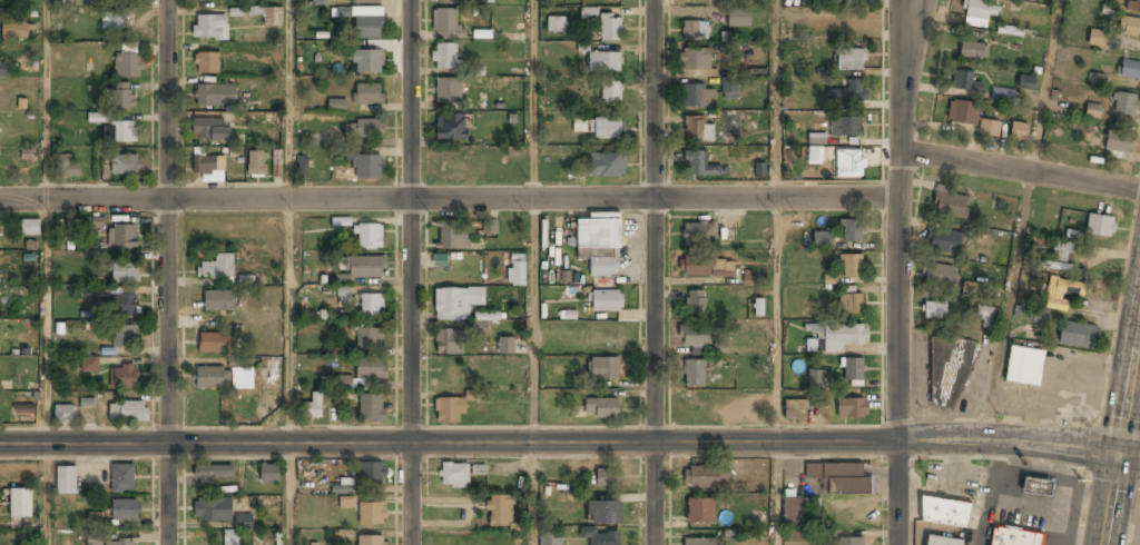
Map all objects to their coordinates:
building: (613, 0)
building: (1036, 0)
building: (367, 1)
building: (446, 1)
building: (852, 1)
building: (91, 2)
building: (318, 2)
building: (1132, 6)
building: (588, 12)
building: (979, 12)
building: (272, 17)
building: (738, 20)
building: (112, 21)
building: (368, 23)
building: (445, 23)
building: (1128, 24)
building: (557, 26)
building: (210, 28)
building: (611, 29)
building: (1009, 30)
building: (17, 31)
building: (696, 31)
building: (1097, 38)
road: (908, 48)
building: (973, 50)
building: (444, 57)
building: (852, 60)
building: (695, 61)
building: (367, 62)
building: (605, 63)
building: (206, 65)
building: (128, 66)
building: (1130, 69)
building: (3, 70)
building: (964, 80)
building: (1025, 82)
building: (445, 91)
building: (611, 91)
building: (851, 91)
building: (730, 92)
building: (368, 95)
building: (1002, 95)
building: (122, 96)
building: (214, 97)
building: (698, 97)
road: (776, 98)
road: (289, 99)
road: (537, 99)
road: (45, 100)
building: (1123, 103)
building: (336, 105)
building: (1092, 110)
building: (963, 111)
building: (98, 117)
building: (579, 123)
building: (846, 127)
building: (989, 127)
building: (367, 128)
building: (452, 128)
building: (607, 129)
building: (208, 130)
building: (698, 130)
building: (1018, 130)
building: (120, 132)
building: (816, 138)
building: (1118, 141)
building: (29, 156)
building: (696, 163)
building: (851, 163)
building: (256, 165)
building: (277, 165)
building: (367, 165)
building: (608, 165)
building: (125, 166)
building: (208, 167)
building: (63, 168)
building: (303, 168)
building: (759, 169)
road: (1019, 171)
road: (449, 198)
building: (950, 202)
road: (1023, 218)
road: (897, 219)
building: (1099, 225)
building: (0, 226)
building: (489, 227)
building: (30, 228)
building: (852, 232)
building: (454, 235)
building: (699, 235)
building: (121, 237)
building: (368, 237)
building: (943, 240)
building: (822, 241)
building: (599, 246)
building: (1062, 250)
building: (1053, 265)
building: (852, 267)
building: (217, 268)
building: (366, 268)
building: (707, 268)
building: (517, 270)
road: (168, 272)
road: (409, 272)
road: (653, 272)
building: (125, 275)
building: (938, 275)
building: (747, 277)
building: (970, 287)
building: (1062, 293)
building: (346, 297)
building: (219, 303)
building: (458, 303)
building: (607, 303)
building: (851, 303)
building: (697, 305)
building: (124, 306)
building: (372, 306)
building: (934, 309)
building: (986, 316)
building: (1040, 316)
building: (484, 317)
building: (1078, 335)
building: (694, 337)
building: (836, 337)
building: (121, 338)
building: (368, 339)
building: (449, 343)
building: (216, 344)
building: (505, 346)
building: (90, 364)
building: (1023, 365)
building: (371, 369)
building: (854, 369)
building: (949, 369)
building: (605, 370)
road: (778, 370)
road: (45, 371)
road: (289, 371)
road: (537, 371)
building: (694, 374)
building: (124, 378)
building: (213, 379)
building: (815, 380)
road: (1129, 387)
building: (314, 407)
building: (372, 408)
building: (601, 408)
building: (852, 408)
building: (450, 410)
building: (796, 410)
building: (128, 413)
building: (24, 415)
building: (65, 415)
road: (559, 442)
traffic signals: (1119, 453)
road: (1129, 454)
building: (214, 473)
building: (269, 474)
building: (373, 474)
building: (454, 476)
building: (122, 478)
building: (706, 478)
building: (606, 479)
building: (841, 479)
building: (66, 482)
building: (343, 486)
building: (1036, 486)
road: (895, 493)
road: (1111, 498)
building: (346, 502)
building: (21, 505)
building: (125, 511)
building: (213, 511)
building: (700, 511)
building: (944, 512)
building: (500, 513)
building: (794, 513)
building: (372, 514)
building: (605, 514)
building: (1014, 536)
building: (599, 537)
building: (230, 538)
building: (94, 539)
building: (551, 539)
building: (372, 541)
building: (942, 541)
building: (701, 542)
building: (847, 542)
building: (119, 543)
building: (748, 543)
building: (272, 544)

